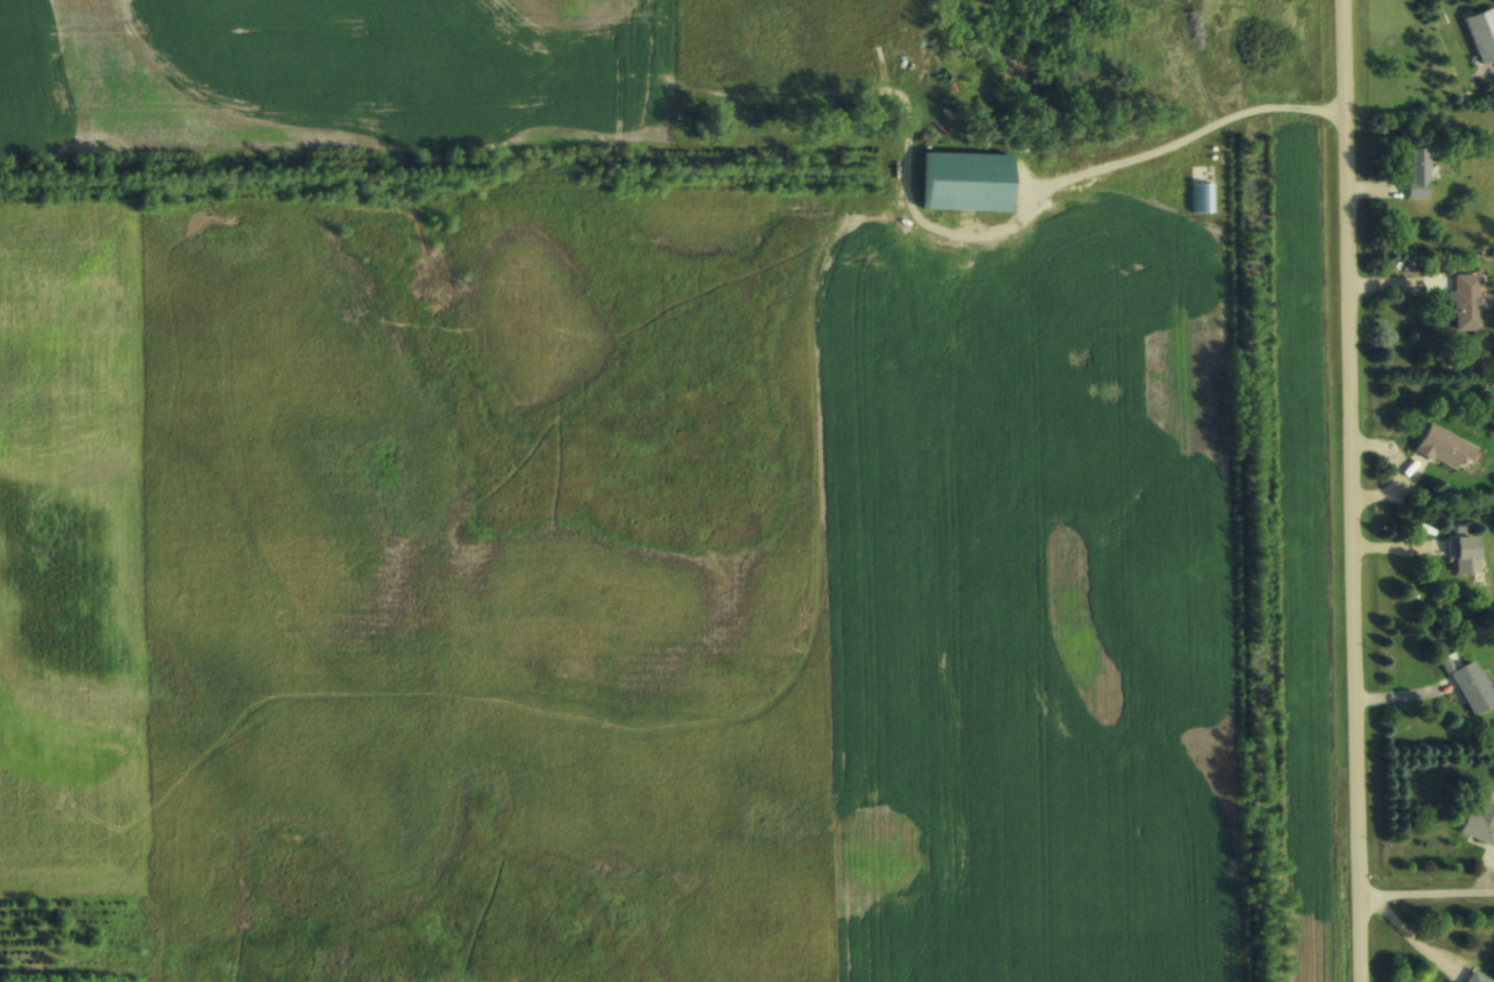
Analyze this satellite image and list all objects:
building: (1482, 35)
road: (1184, 140)
building: (1415, 173)
building: (1466, 302)
building: (1441, 446)
road: (1350, 491)
building: (1463, 554)
building: (1468, 685)
building: (1479, 824)
road: (1425, 891)
building: (1475, 977)

